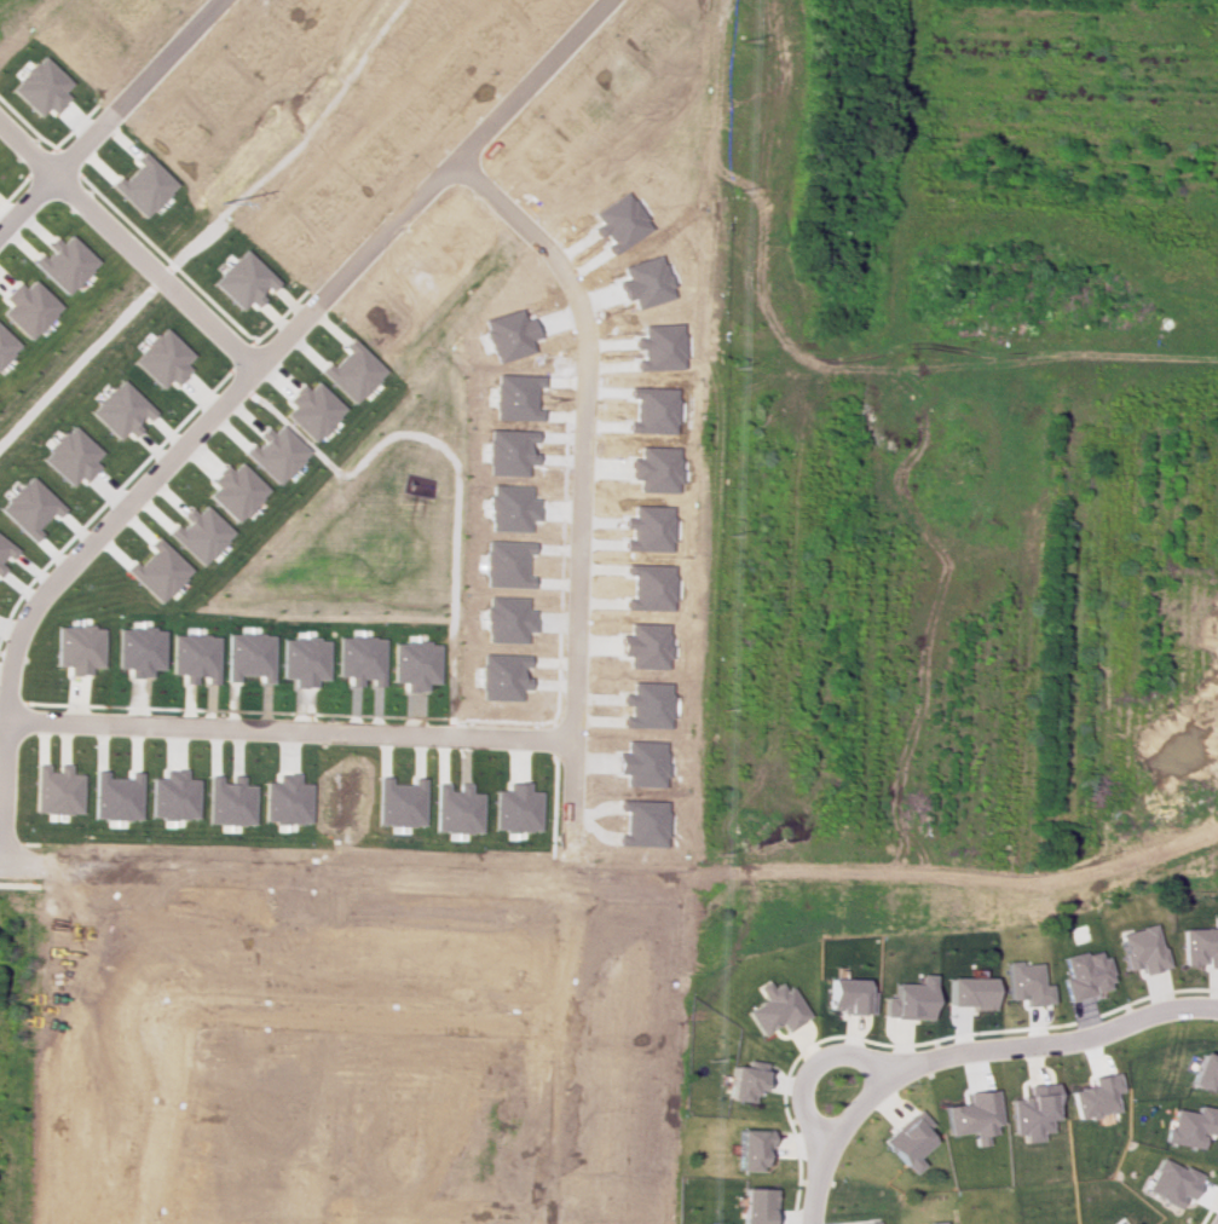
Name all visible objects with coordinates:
building: (39, 86)
road: (108, 115)
road: (299, 144)
building: (142, 185)
power tower: (217, 200)
road: (127, 244)
building: (65, 264)
road: (161, 278)
building: (242, 279)
building: (29, 308)
road: (275, 343)
building: (5, 345)
building: (161, 358)
road: (76, 366)
building: (351, 371)
road: (1214, 394)
building: (119, 410)
building: (310, 410)
building: (273, 452)
building: (69, 456)
building: (233, 490)
road: (579, 496)
building: (28, 507)
building: (198, 533)
building: (5, 552)
building: (156, 570)
building: (76, 647)
road: (285, 729)
road: (2, 790)
building: (54, 790)
road: (341, 874)
building: (1199, 943)
building: (1138, 948)
building: (1083, 974)
building: (1023, 983)
building: (966, 992)
building: (847, 995)
building: (908, 999)
building: (773, 1008)
road: (360, 1018)
road: (920, 1041)
road: (1000, 1046)
road: (544, 1052)
road: (808, 1068)
building: (1202, 1070)
building: (743, 1080)
building: (1091, 1096)
building: (1029, 1112)
building: (971, 1115)
road: (160, 1118)
building: (1184, 1125)
building: (907, 1141)
building: (749, 1148)
building: (1166, 1182)
road: (812, 1189)
building: (754, 1205)
building: (865, 1222)
building: (931, 1222)
building: (1128, 1222)

